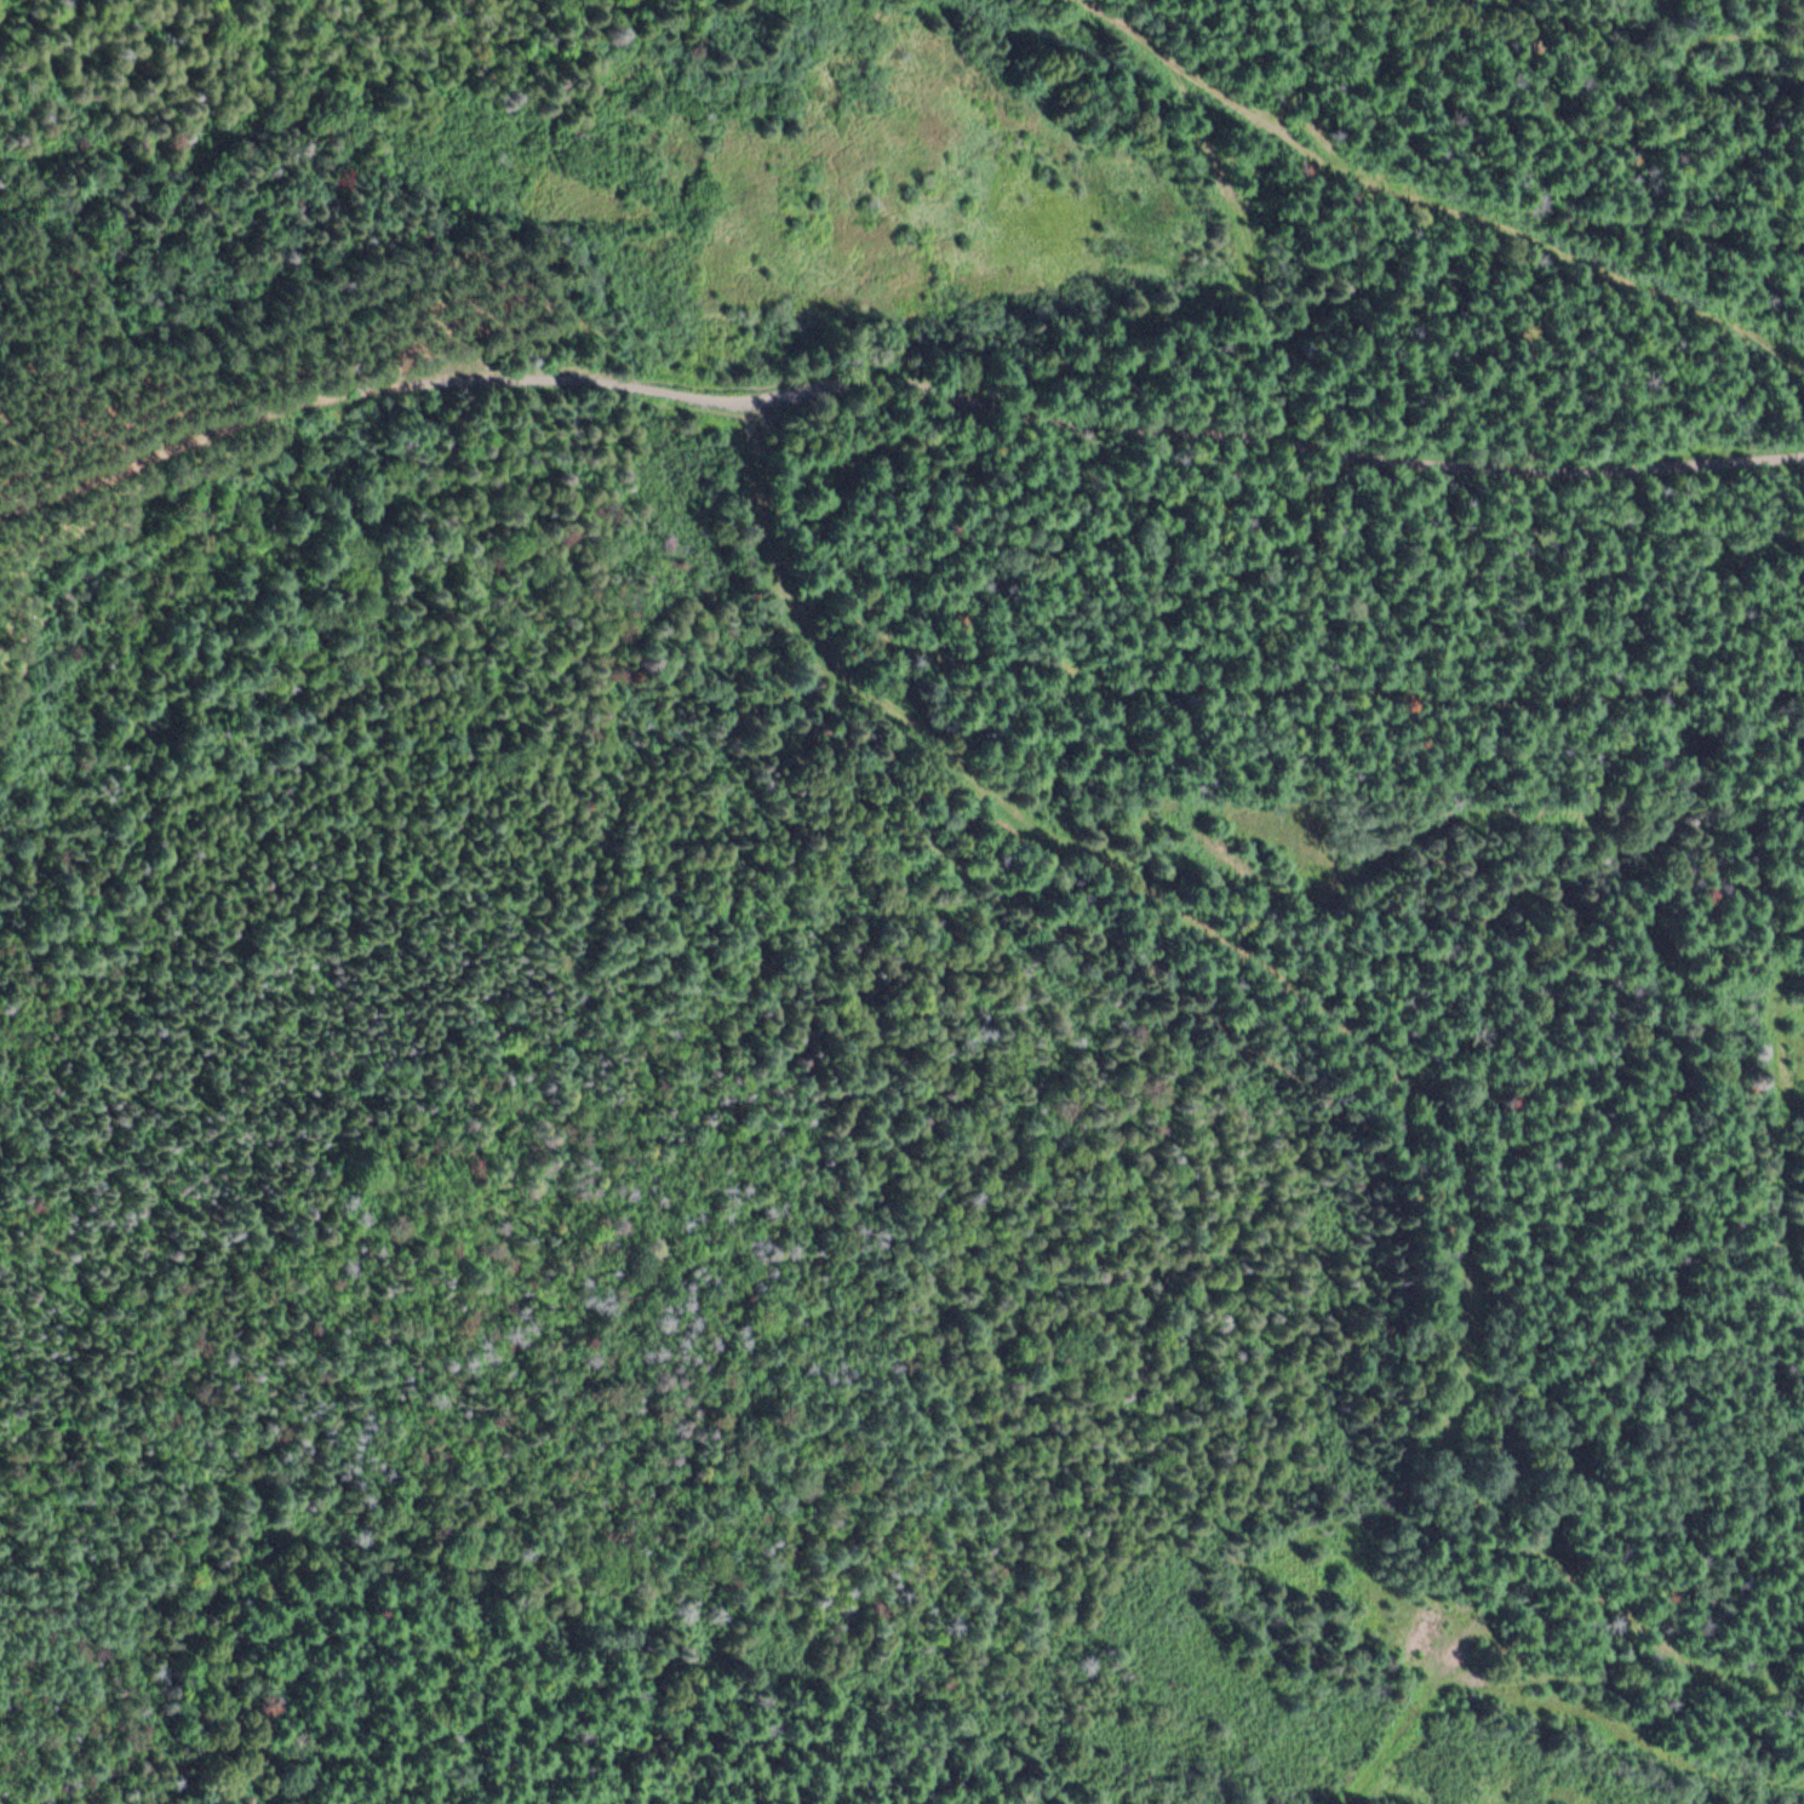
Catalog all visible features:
road: (1712, 119)
road: (1565, 187)
road: (1428, 201)
road: (1534, 303)
road: (1140, 330)
road: (371, 391)
road: (1272, 435)
road: (321, 462)
road: (1254, 584)
road: (1342, 1029)

